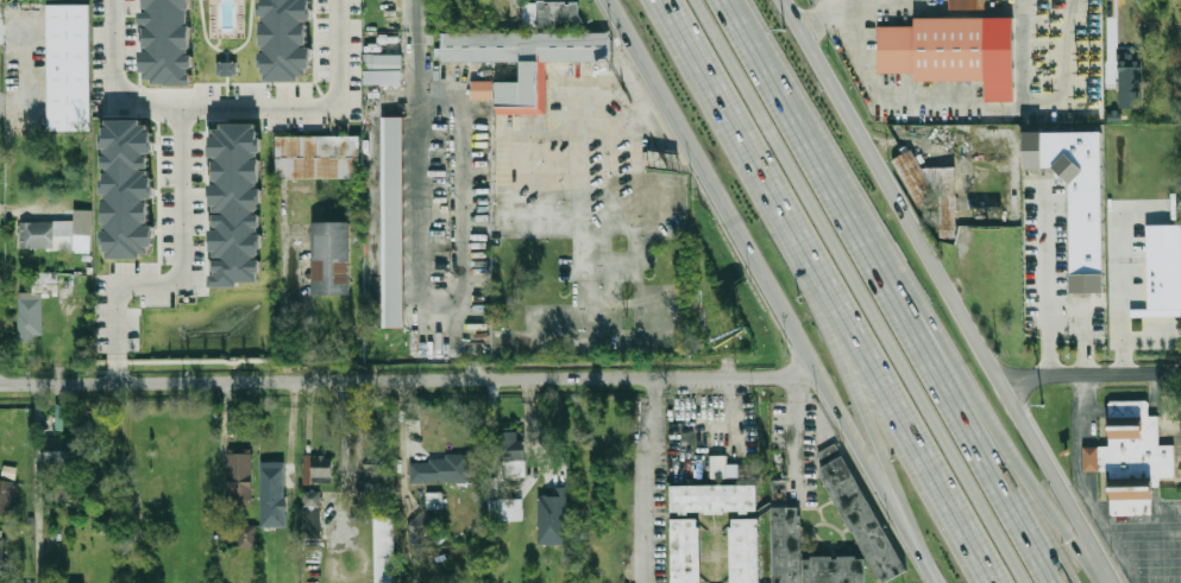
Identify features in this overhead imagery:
building: (966, 4)
building: (549, 13)
road: (1123, 20)
building: (284, 39)
building: (167, 42)
road: (415, 44)
road: (753, 45)
building: (932, 49)
building: (522, 58)
building: (382, 59)
road: (25, 62)
building: (67, 65)
building: (226, 68)
building: (379, 75)
building: (1129, 80)
building: (480, 89)
road: (233, 120)
road: (739, 133)
building: (315, 156)
building: (127, 188)
building: (931, 189)
building: (1075, 195)
road: (842, 201)
building: (237, 204)
building: (392, 221)
building: (62, 236)
building: (329, 256)
building: (1162, 272)
road: (181, 274)
road: (762, 279)
road: (1044, 280)
road: (861, 291)
road: (953, 291)
building: (34, 304)
road: (458, 304)
building: (1074, 308)
road: (1089, 372)
road: (408, 381)
road: (866, 411)
building: (59, 417)
road: (728, 423)
road: (902, 424)
road: (793, 436)
road: (1082, 436)
road: (1007, 442)
road: (981, 445)
building: (1133, 448)
building: (71, 449)
parking lot: (1177, 456)
building: (1094, 457)
building: (513, 461)
building: (717, 467)
building: (322, 468)
building: (438, 470)
building: (8, 471)
building: (375, 476)
building: (239, 477)
building: (281, 477)
road: (642, 481)
road: (36, 484)
building: (492, 486)
building: (778, 486)
building: (61, 493)
building: (6, 496)
building: (714, 499)
building: (434, 500)
building: (1129, 501)
building: (498, 509)
building: (312, 514)
parking lot: (1129, 517)
building: (552, 518)
building: (862, 519)
building: (421, 525)
road: (1141, 526)
building: (786, 532)
road: (1143, 534)
building: (247, 536)
road: (1108, 540)
road: (1147, 544)
building: (384, 550)
building: (2, 551)
building: (686, 551)
building: (745, 551)
road: (1149, 552)
road: (1151, 560)
road: (930, 569)
road: (1154, 569)
parking lot: (1163, 578)

